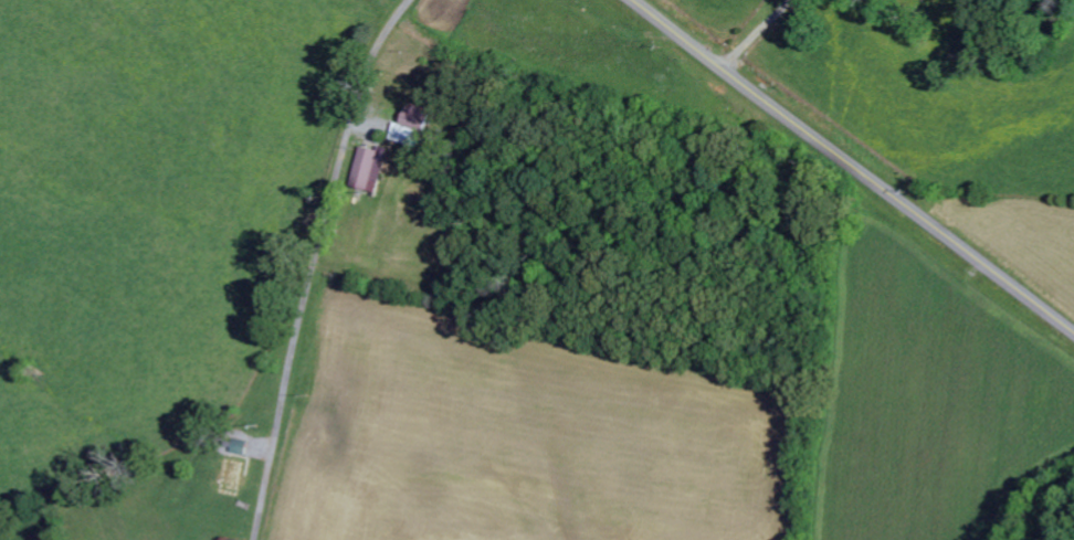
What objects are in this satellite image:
building: (417, 129)
road: (853, 166)
building: (373, 169)
road: (318, 262)
building: (244, 448)
building: (235, 479)

